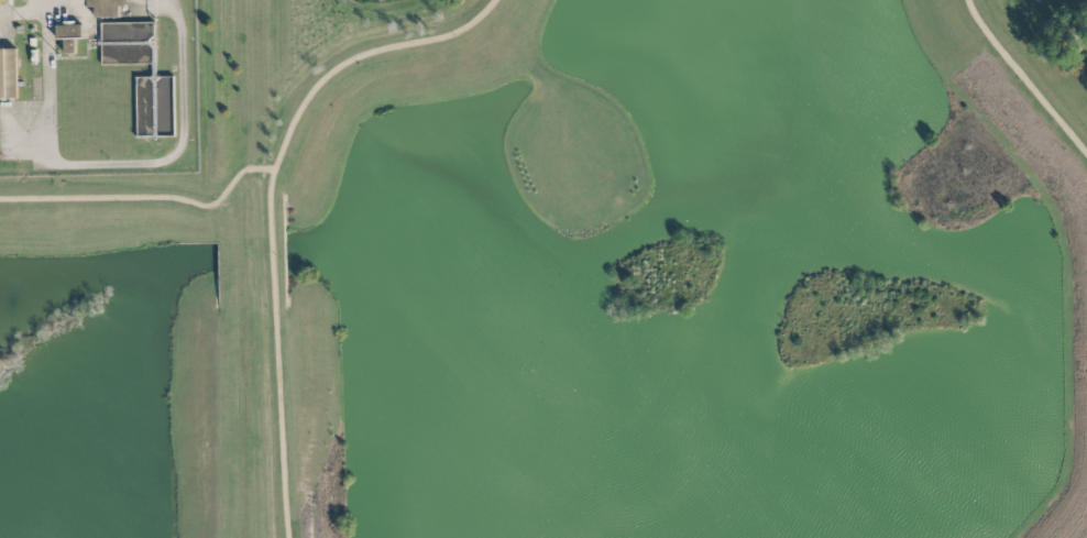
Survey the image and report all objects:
building: (107, 8)
building: (69, 36)
building: (8, 74)
building: (165, 90)
road: (111, 163)

